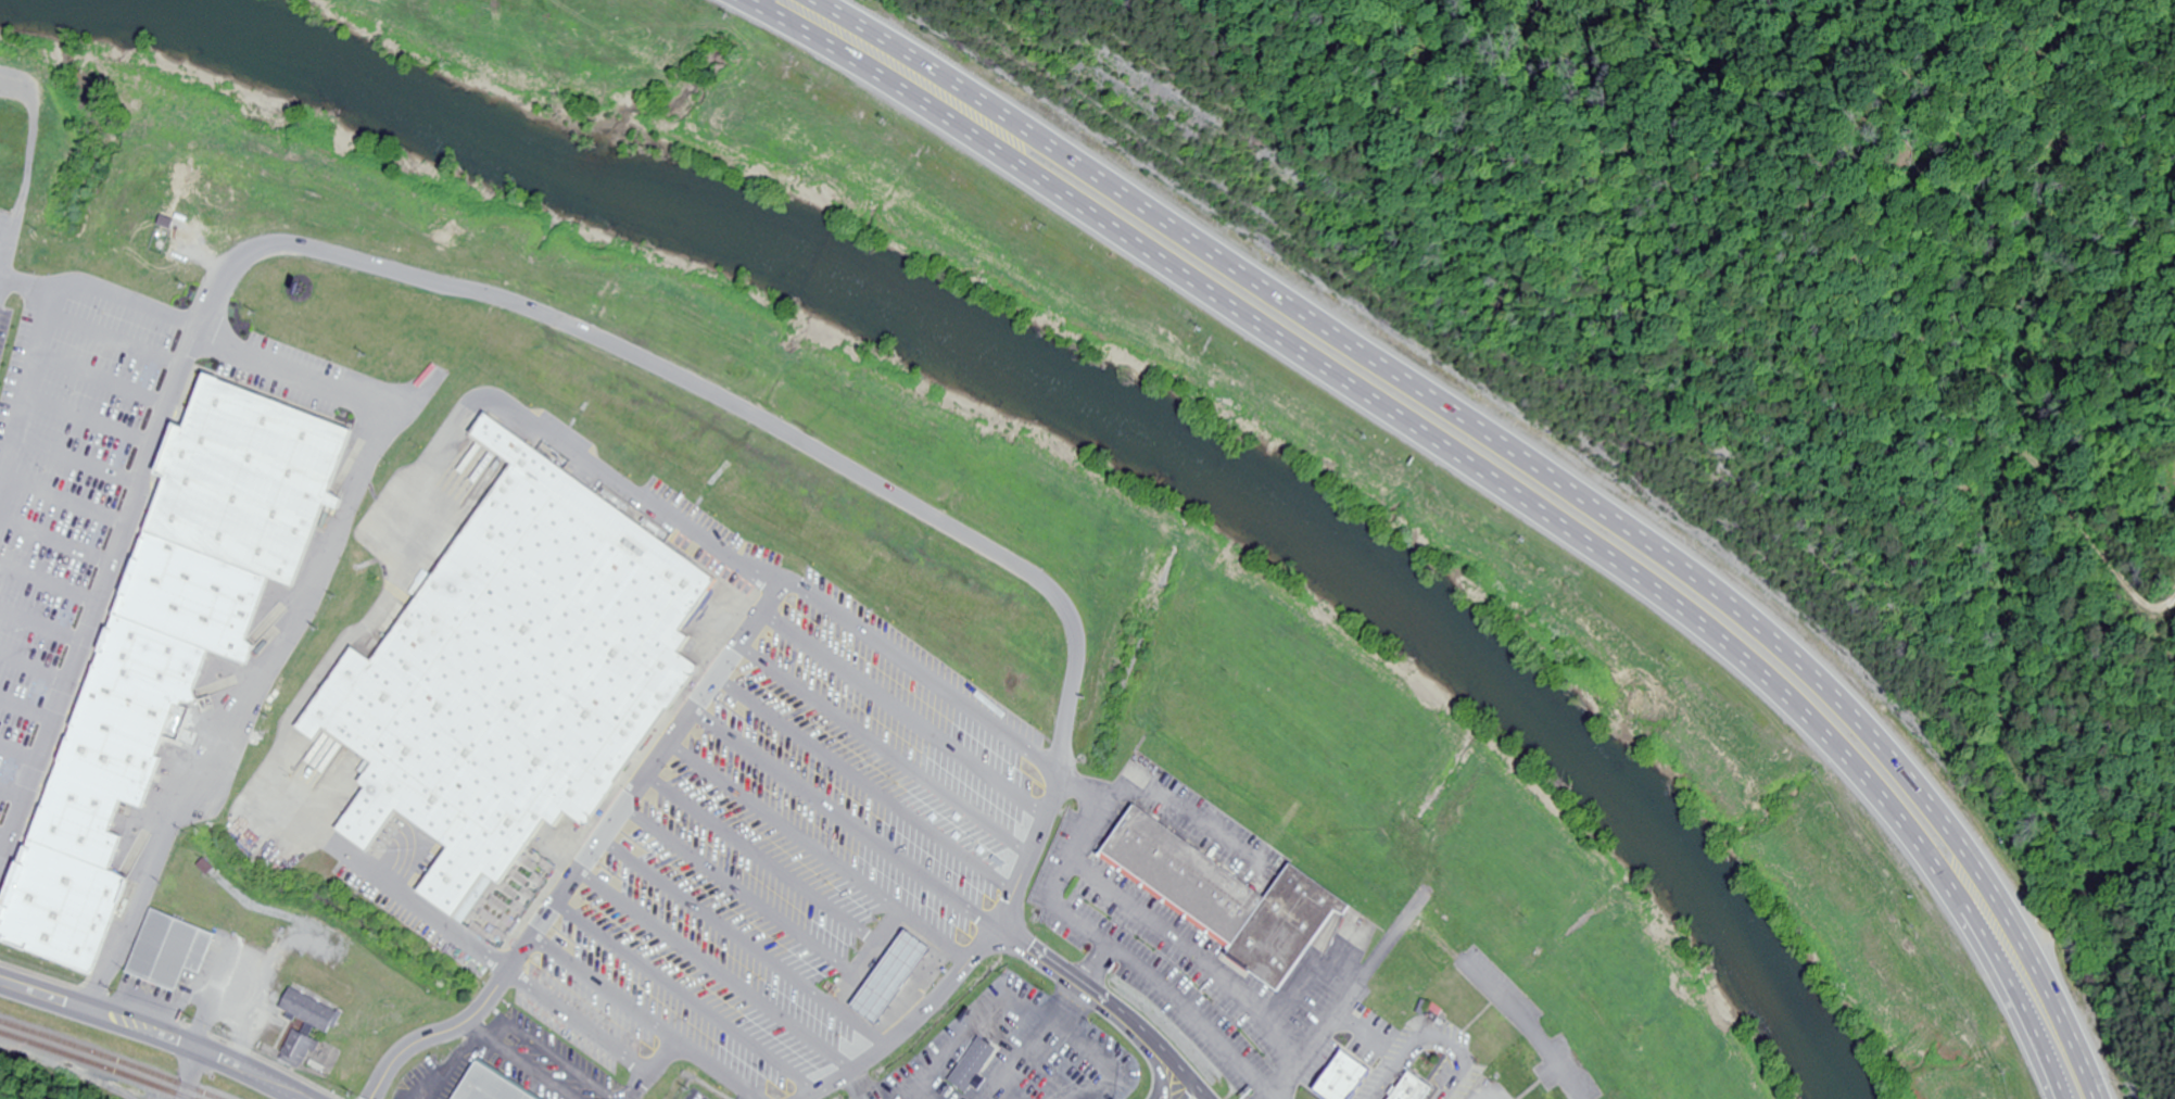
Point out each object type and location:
park: (28, 143)
road: (29, 164)
road: (24, 282)
road: (448, 282)
road: (42, 304)
road: (113, 339)
road: (101, 377)
river: (1083, 403)
road: (89, 417)
road: (77, 456)
road: (595, 464)
road: (1535, 468)
road: (1478, 470)
road: (63, 500)
road: (55, 544)
road: (49, 583)
road: (380, 616)
road: (42, 623)
road: (293, 624)
road: (34, 670)
building: (526, 674)
road: (924, 678)
road: (27, 709)
road: (909, 713)
road: (890, 748)
road: (20, 753)
road: (648, 775)
road: (871, 782)
building: (49, 785)
road: (13, 794)
road: (290, 797)
road: (1192, 814)
road: (846, 820)
road: (787, 829)
road: (5, 837)
parking lot: (806, 854)
road: (766, 859)
road: (742, 893)
building: (1230, 898)
road: (420, 907)
road: (720, 922)
road: (1112, 942)
building: (170, 950)
road: (874, 952)
road: (1193, 953)
road: (1099, 964)
road: (968, 965)
road: (719, 970)
road: (1067, 975)
building: (897, 985)
gas station: (897, 985)
road: (610, 989)
road: (1356, 990)
road: (690, 996)
building: (318, 999)
road: (552, 1002)
road: (1527, 1023)
road: (153, 1033)
road: (1436, 1036)
building: (301, 1051)
railway: (99, 1053)
road: (1174, 1059)
road: (1154, 1060)
building: (977, 1071)
road: (193, 1073)
building: (1351, 1083)
building: (492, 1088)
road: (1181, 1088)
building: (1420, 1089)
road: (750, 1098)

